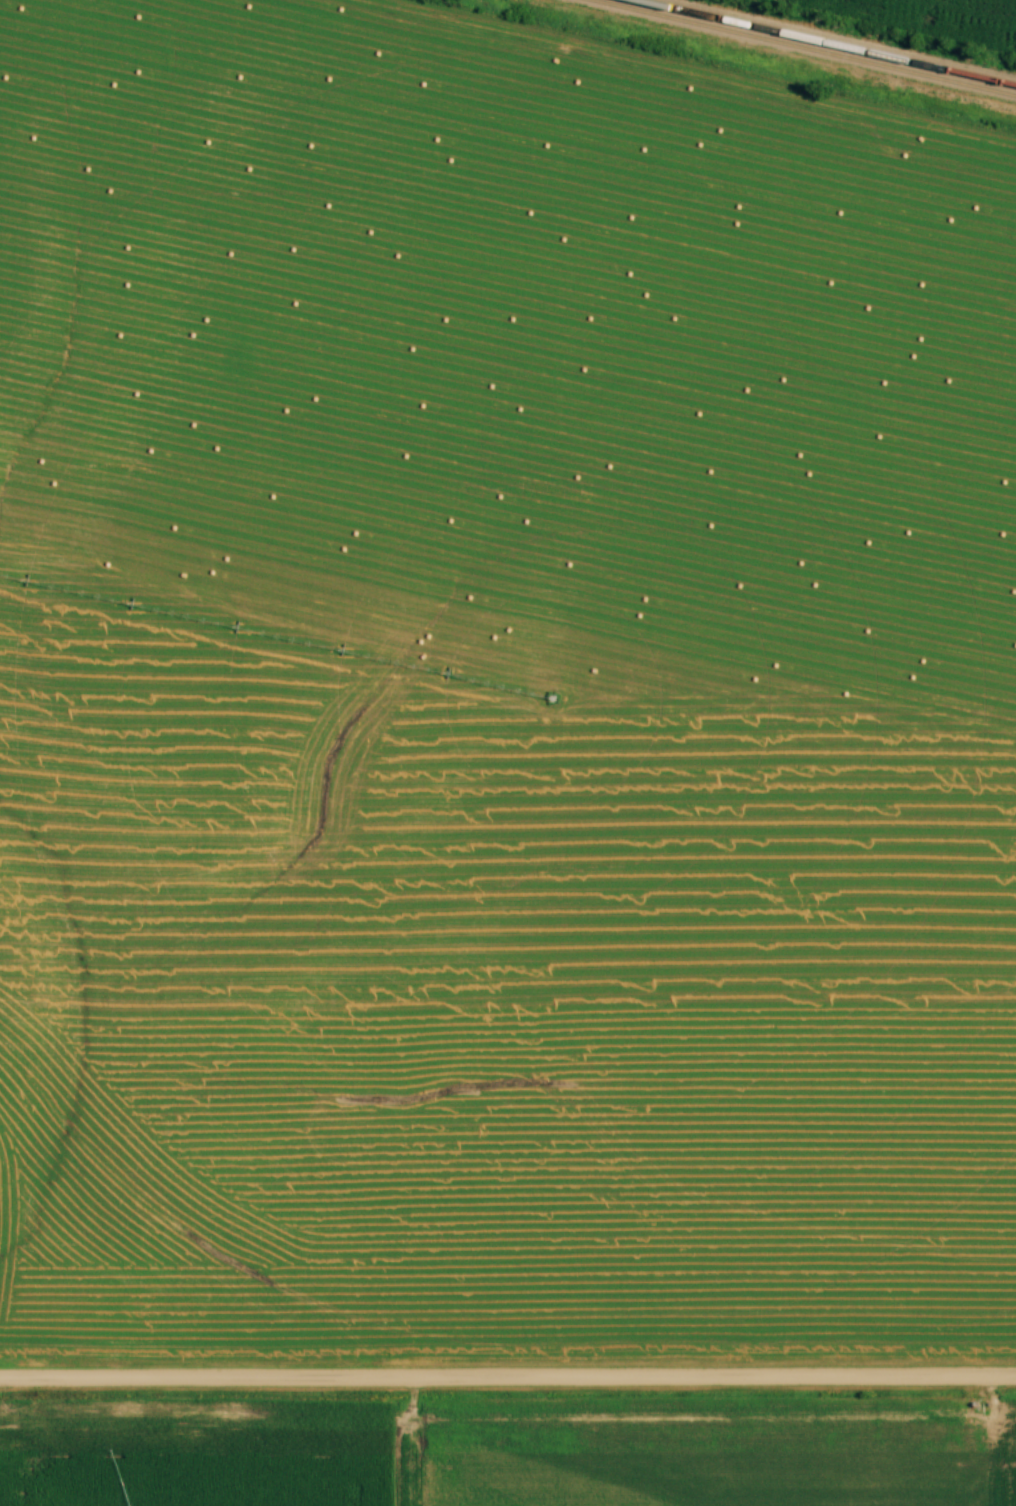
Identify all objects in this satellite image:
railway: (825, 42)
railway: (801, 48)
road: (508, 1379)

